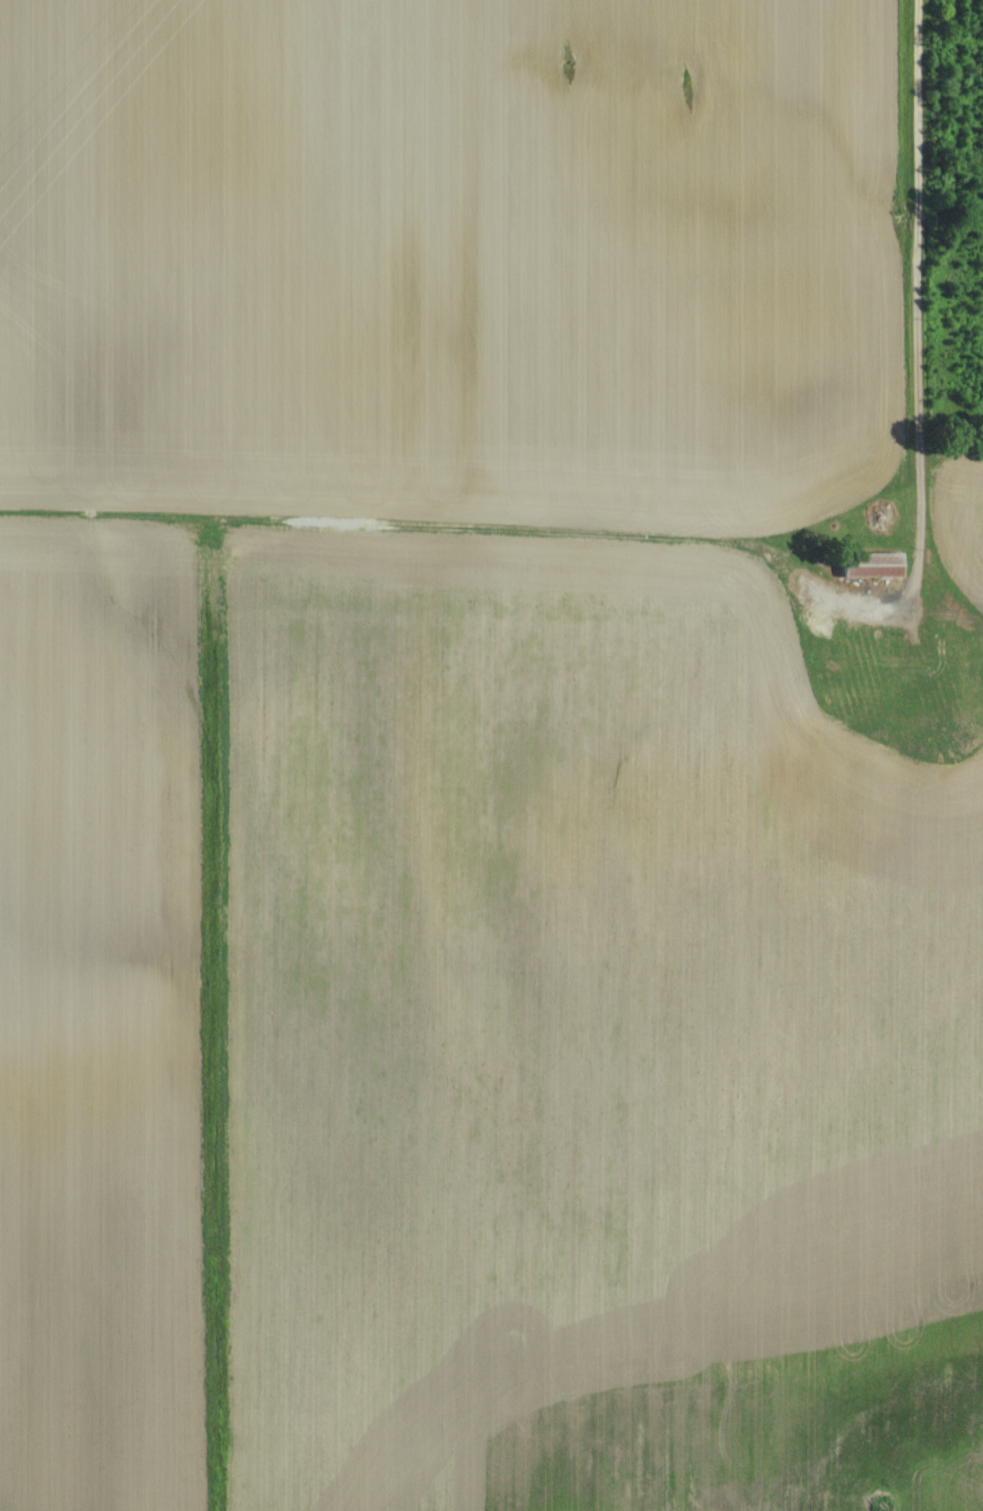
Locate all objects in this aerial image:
road: (758, 555)

